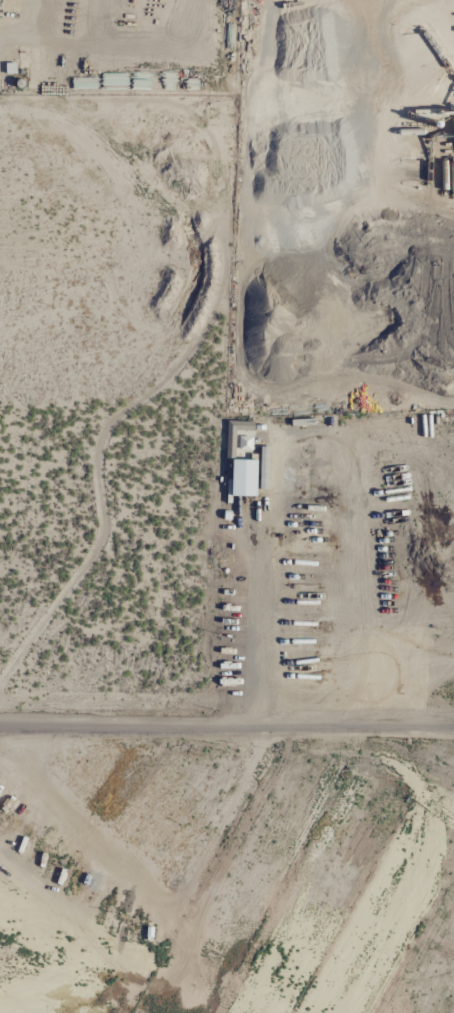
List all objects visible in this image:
building: (230, 441)
building: (241, 478)
road: (226, 728)

